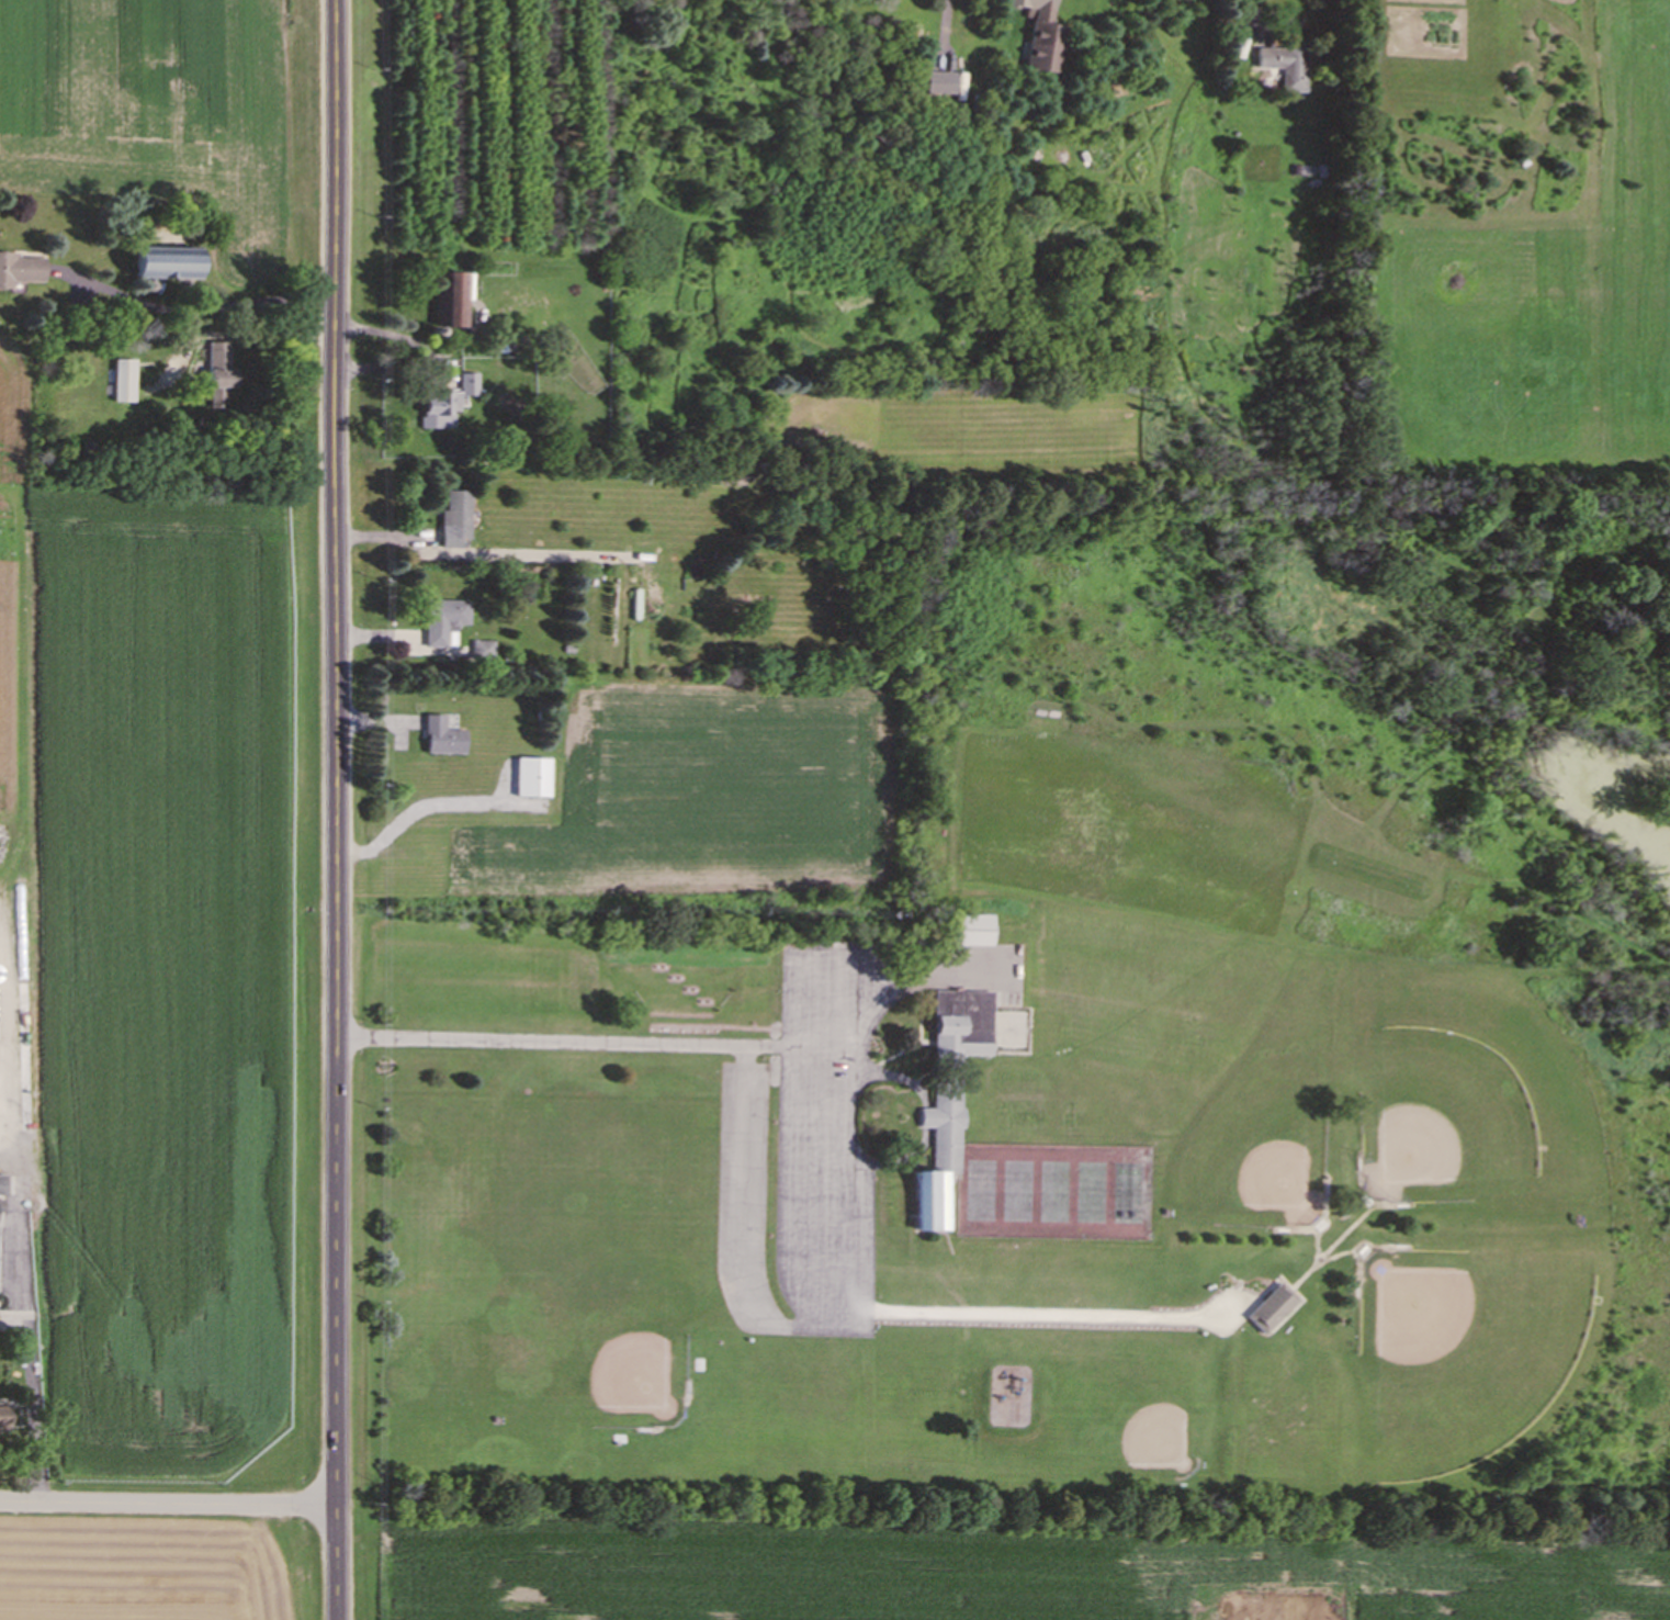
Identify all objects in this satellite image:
road: (1257, 15)
building: (1037, 37)
building: (1280, 70)
building: (937, 86)
crop: (157, 101)
building: (155, 266)
building: (18, 272)
road: (217, 302)
building: (442, 302)
road: (420, 358)
building: (213, 376)
building: (121, 383)
building: (428, 410)
building: (447, 521)
building: (438, 625)
building: (475, 653)
building: (436, 740)
building: (531, 780)
road: (417, 809)
road: (335, 810)
building: (966, 933)
crop: (160, 950)
road: (674, 1044)
park: (1095, 1067)
park: (1471, 1092)
building: (948, 1095)
park: (1255, 1151)
park: (985, 1188)
park: (1022, 1188)
park: (1058, 1189)
park: (1097, 1190)
park: (1132, 1190)
road: (798, 1196)
building: (1271, 1307)
park: (583, 1310)
road: (27, 1318)
park: (1462, 1351)
park: (1147, 1410)
road: (169, 1506)

